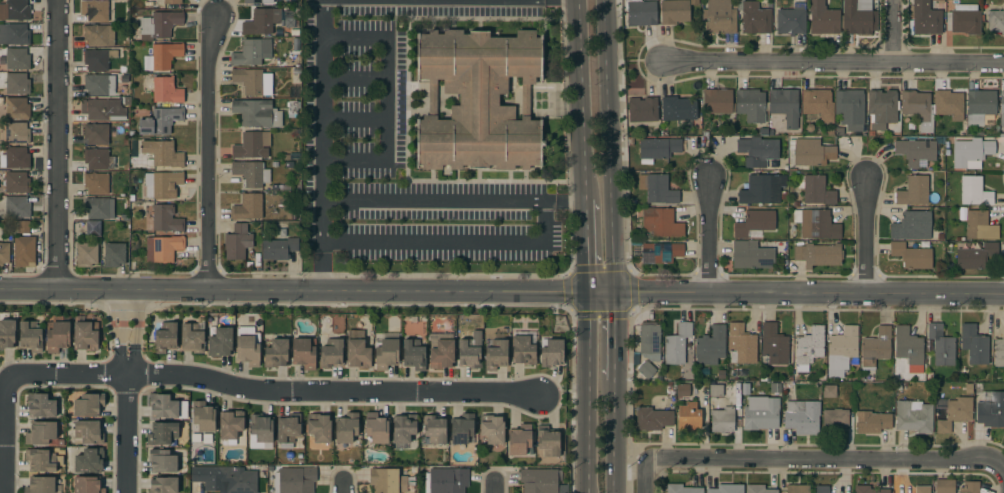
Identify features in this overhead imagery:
building: (257, 1)
building: (172, 2)
building: (15, 10)
building: (94, 10)
building: (674, 11)
building: (640, 12)
building: (719, 16)
building: (790, 17)
building: (857, 17)
building: (754, 18)
building: (822, 18)
building: (926, 18)
building: (289, 19)
building: (964, 19)
building: (261, 21)
building: (996, 21)
road: (324, 22)
building: (159, 24)
building: (295, 33)
building: (14, 34)
building: (99, 35)
road: (895, 38)
road: (324, 51)
building: (251, 52)
building: (162, 56)
building: (17, 58)
building: (98, 59)
road: (833, 64)
building: (124, 69)
building: (124, 79)
road: (354, 79)
building: (252, 81)
building: (17, 83)
building: (99, 85)
building: (164, 89)
building: (0, 91)
building: (478, 100)
road: (581, 100)
building: (127, 101)
building: (717, 101)
building: (818, 104)
building: (948, 104)
building: (750, 105)
building: (785, 106)
building: (979, 106)
building: (17, 108)
building: (292, 108)
building: (675, 108)
building: (882, 108)
building: (918, 108)
building: (1002, 108)
building: (101, 109)
building: (643, 109)
building: (850, 109)
building: (256, 113)
road: (354, 119)
building: (160, 121)
building: (17, 133)
building: (96, 134)
building: (849, 141)
road: (61, 144)
road: (607, 144)
building: (252, 145)
building: (659, 148)
building: (757, 151)
building: (971, 151)
building: (810, 152)
building: (916, 152)
road: (216, 153)
building: (162, 154)
building: (15, 158)
building: (98, 159)
building: (289, 165)
building: (125, 167)
building: (251, 173)
building: (16, 182)
building: (96, 183)
building: (160, 184)
building: (657, 189)
building: (761, 189)
building: (816, 190)
building: (913, 191)
building: (974, 192)
road: (453, 199)
building: (16, 206)
building: (247, 207)
building: (99, 208)
building: (124, 218)
building: (166, 219)
building: (661, 222)
building: (754, 222)
building: (816, 224)
building: (979, 225)
building: (912, 226)
building: (23, 227)
building: (93, 228)
road: (868, 230)
road: (711, 231)
building: (237, 242)
road: (452, 242)
road: (586, 243)
building: (163, 248)
building: (279, 248)
building: (24, 252)
building: (661, 252)
building: (4, 253)
building: (86, 254)
building: (114, 254)
building: (818, 255)
building: (975, 255)
building: (751, 256)
building: (911, 256)
road: (307, 288)
road: (808, 289)
building: (7, 333)
building: (57, 334)
road: (613, 334)
building: (85, 336)
building: (193, 336)
building: (30, 337)
building: (165, 339)
building: (649, 340)
building: (220, 342)
building: (740, 344)
building: (774, 344)
building: (974, 344)
building: (677, 345)
building: (941, 345)
building: (248, 346)
building: (710, 346)
building: (875, 347)
building: (469, 349)
building: (807, 349)
building: (842, 349)
building: (909, 349)
building: (522, 350)
building: (441, 351)
building: (999, 352)
building: (276, 353)
building: (551, 353)
building: (303, 354)
building: (331, 354)
building: (357, 354)
building: (386, 354)
building: (413, 355)
building: (496, 356)
building: (645, 369)
building: (775, 388)
road: (127, 390)
road: (587, 390)
building: (682, 390)
building: (715, 390)
road: (272, 391)
building: (829, 391)
building: (40, 405)
building: (88, 405)
building: (166, 407)
building: (991, 411)
building: (761, 413)
building: (955, 413)
building: (203, 416)
building: (801, 416)
building: (913, 416)
building: (688, 417)
building: (722, 417)
building: (835, 417)
building: (652, 419)
building: (872, 421)
building: (230, 424)
building: (319, 427)
building: (261, 428)
building: (288, 428)
building: (346, 428)
building: (376, 428)
building: (403, 428)
building: (461, 428)
building: (434, 429)
building: (492, 429)
road: (4, 432)
building: (88, 432)
building: (41, 433)
building: (162, 433)
road: (613, 437)
building: (518, 439)
building: (548, 441)
building: (42, 460)
building: (88, 460)
road: (827, 460)
building: (162, 461)
road: (645, 475)
building: (225, 478)
building: (294, 480)
building: (387, 480)
building: (446, 480)
building: (540, 481)
building: (87, 484)
building: (40, 485)
building: (163, 485)
building: (944, 486)
road: (342, 487)
building: (969, 487)
road: (494, 488)
building: (727, 488)
building: (681, 489)
building: (758, 489)
building: (797, 489)
building: (822, 489)
building: (922, 489)
building: (869, 490)

